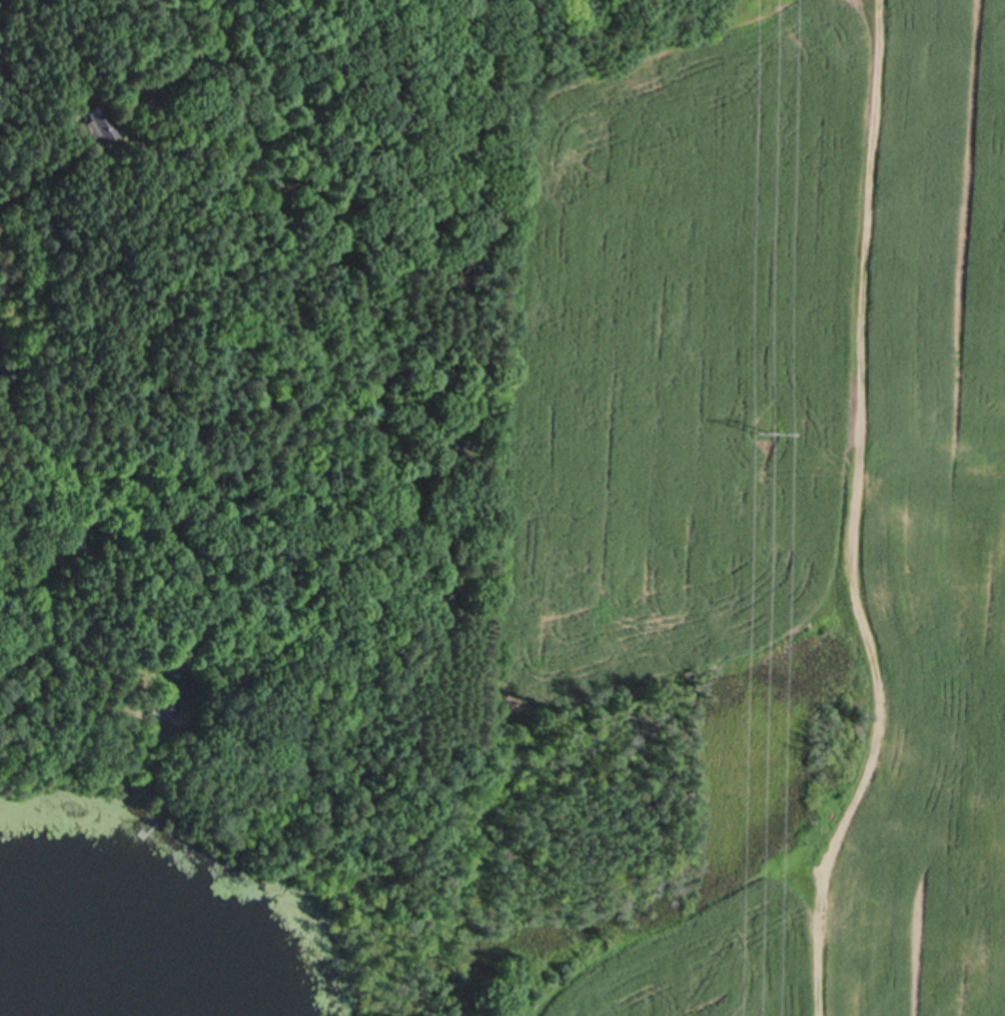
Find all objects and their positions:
building: (97, 119)
power tower: (759, 429)
building: (172, 693)

